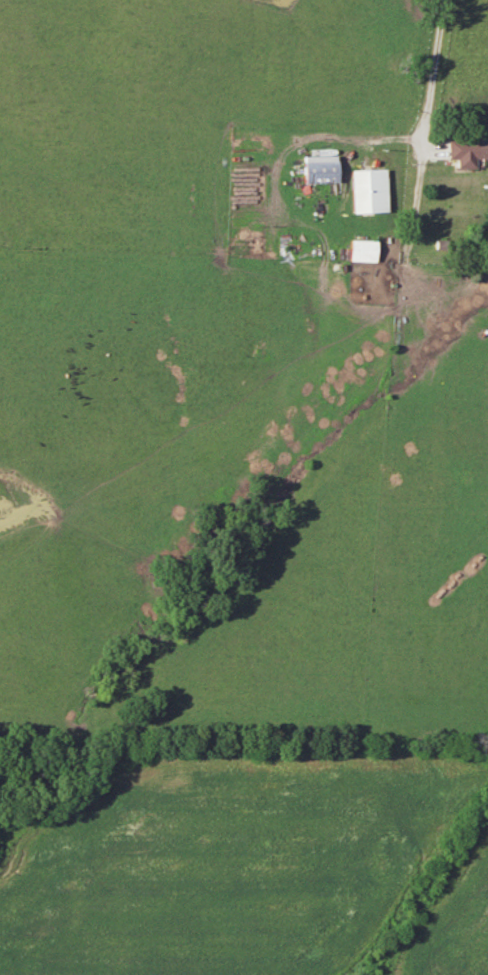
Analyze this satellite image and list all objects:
road: (430, 87)
building: (467, 153)
building: (319, 177)
building: (367, 191)
building: (361, 251)

